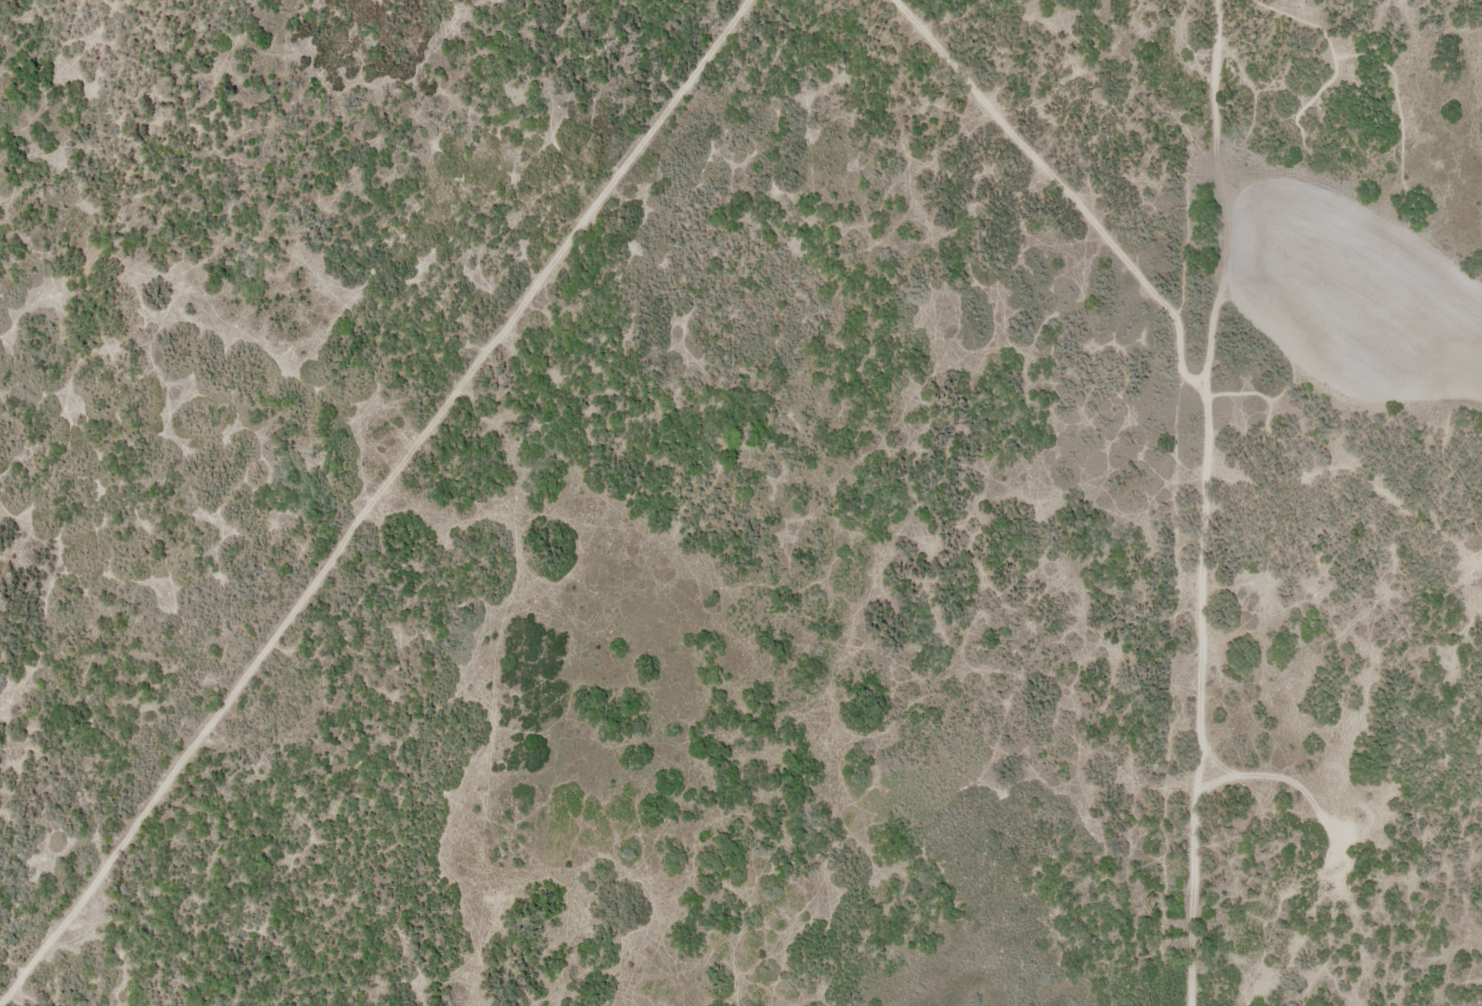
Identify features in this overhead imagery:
road: (1182, 503)

